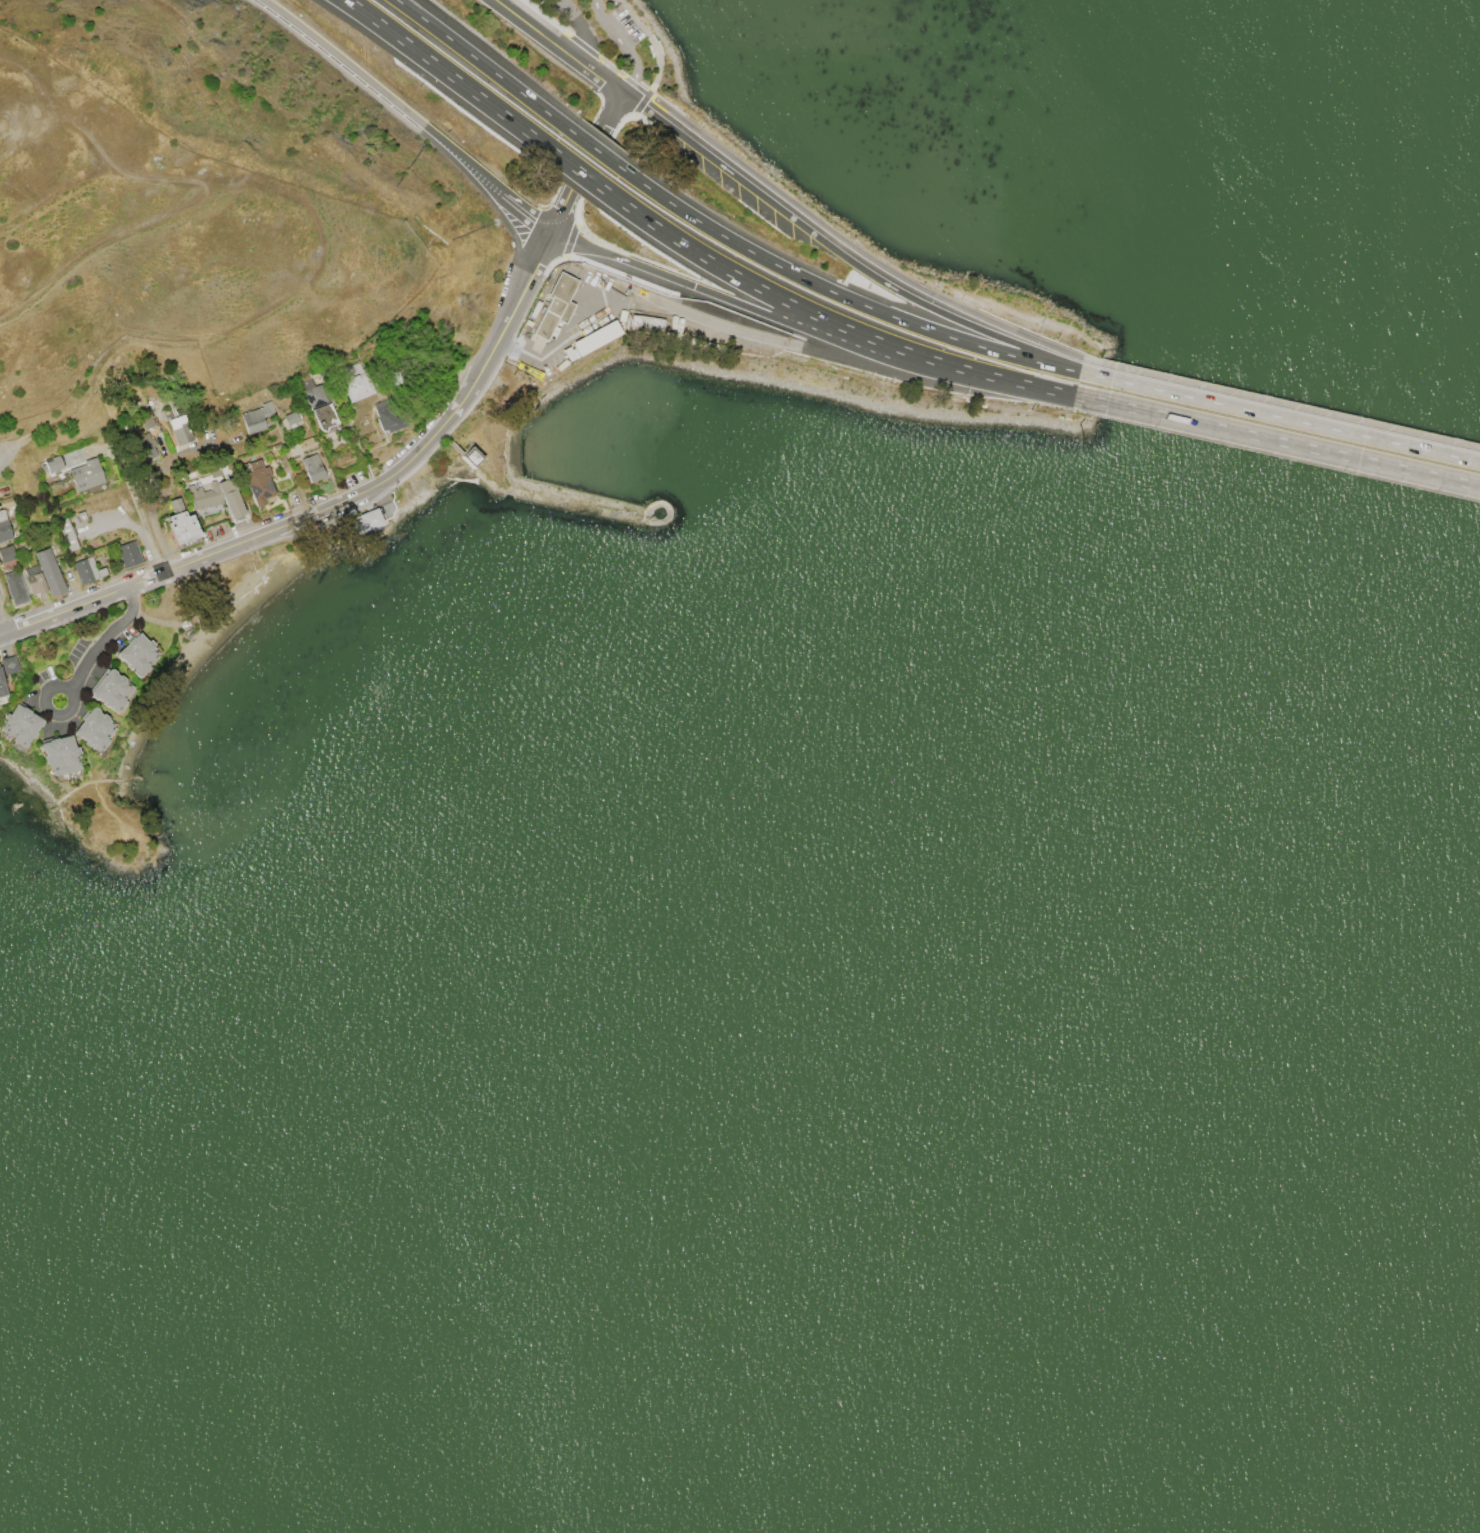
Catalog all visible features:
road: (583, 28)
parking lot: (623, 32)
road: (654, 44)
road: (584, 46)
road: (557, 47)
road: (626, 47)
road: (344, 61)
road: (484, 65)
road: (453, 78)
road: (594, 149)
road: (465, 158)
road: (586, 161)
road: (594, 170)
road: (581, 174)
road: (496, 199)
road: (529, 209)
road: (845, 257)
road: (595, 264)
road: (844, 297)
building: (555, 304)
road: (582, 317)
building: (645, 322)
road: (834, 324)
road: (815, 332)
road: (1021, 333)
building: (591, 339)
road: (503, 343)
road: (826, 352)
building: (513, 364)
building: (528, 371)
building: (393, 377)
building: (354, 381)
building: (313, 394)
building: (323, 416)
building: (387, 416)
building: (255, 417)
building: (145, 418)
building: (290, 418)
road: (1288, 418)
building: (179, 429)
building: (305, 443)
road: (1286, 443)
building: (142, 445)
building: (275, 445)
road: (6, 449)
building: (470, 457)
road: (6, 458)
building: (51, 464)
building: (282, 464)
building: (312, 467)
building: (214, 473)
building: (85, 474)
building: (258, 482)
building: (216, 497)
building: (5, 501)
road: (335, 504)
building: (364, 520)
building: (181, 525)
road: (141, 526)
building: (3, 527)
building: (67, 533)
building: (6, 553)
building: (128, 553)
building: (87, 570)
building: (48, 571)
building: (34, 580)
building: (15, 587)
road: (195, 596)
road: (2, 628)
road: (101, 645)
building: (136, 654)
building: (8, 665)
building: (2, 686)
building: (110, 690)
building: (20, 724)
building: (93, 729)
building: (59, 755)

